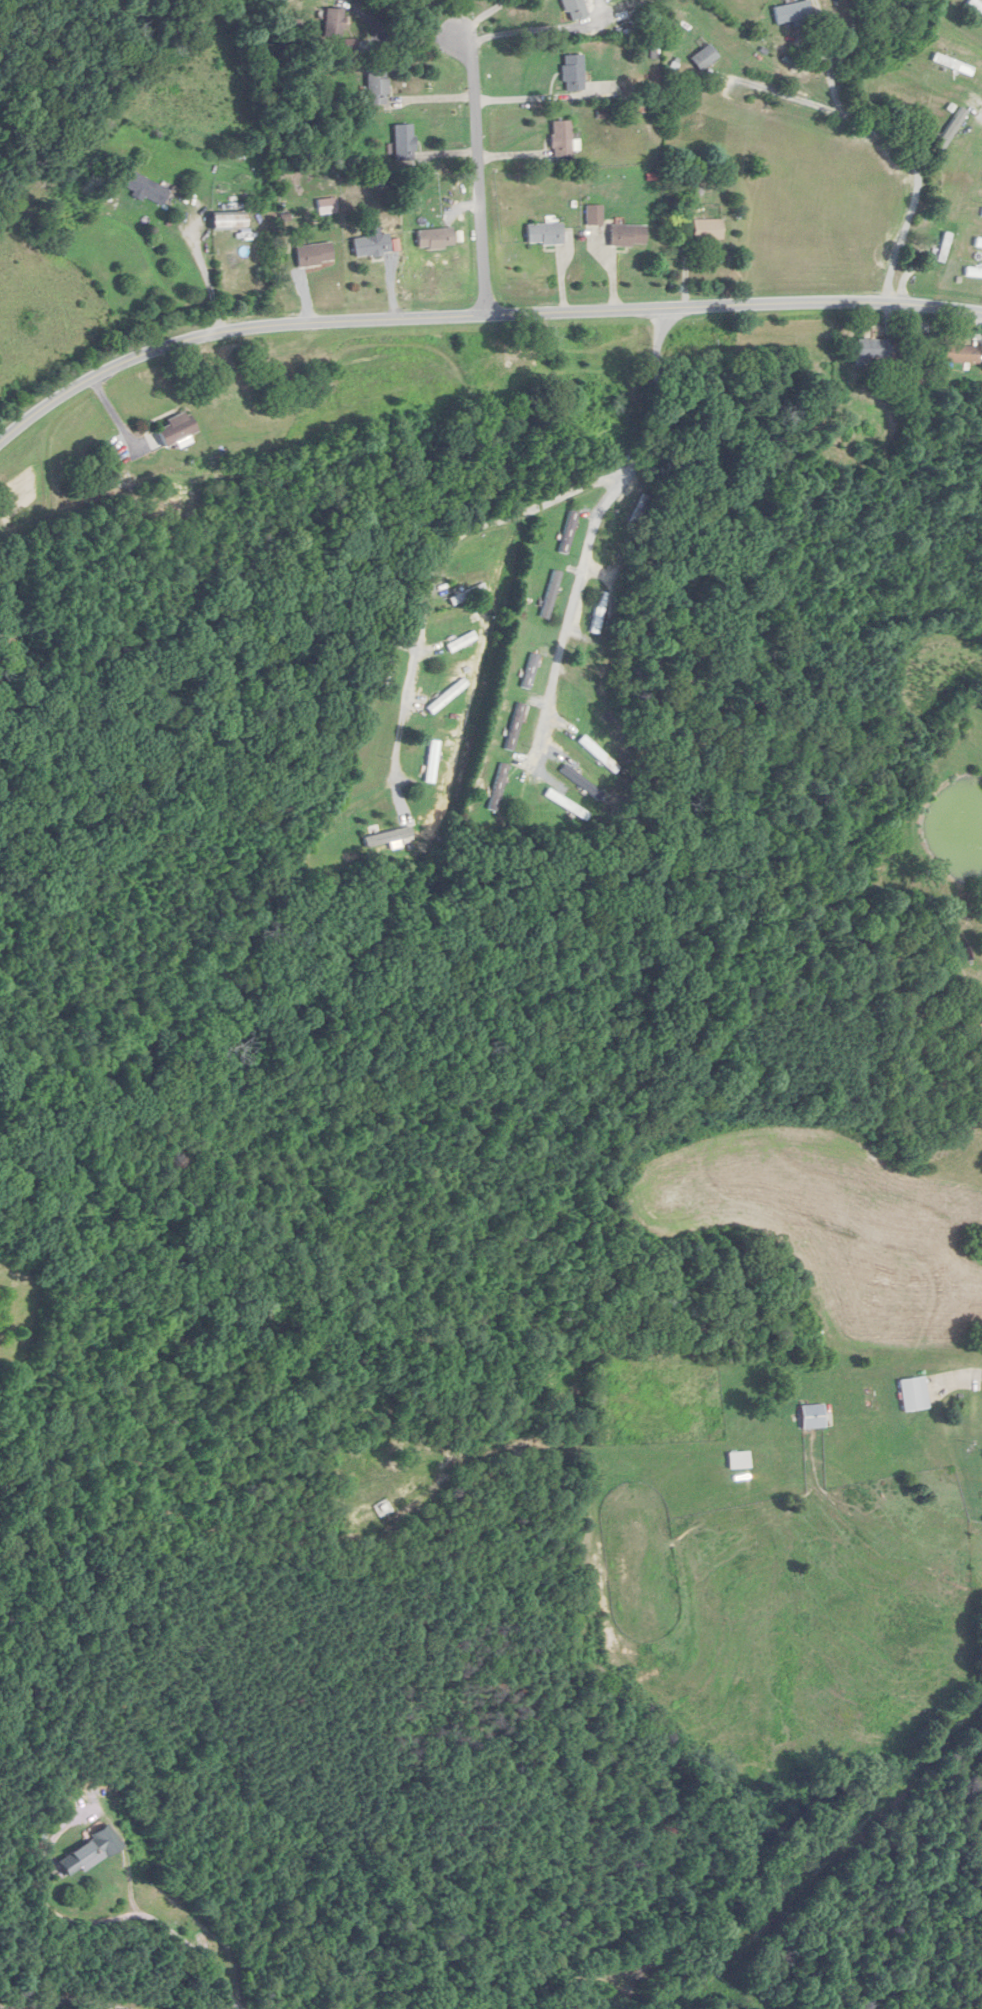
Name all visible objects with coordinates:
building: (975, 6)
building: (574, 9)
building: (792, 12)
building: (334, 22)
road: (407, 33)
building: (704, 58)
building: (953, 64)
building: (573, 73)
building: (377, 87)
road: (799, 98)
building: (950, 132)
building: (562, 139)
road: (897, 141)
building: (404, 143)
road: (484, 160)
building: (146, 189)
building: (594, 215)
building: (226, 221)
building: (706, 229)
building: (544, 234)
building: (627, 235)
building: (434, 239)
building: (978, 242)
building: (371, 246)
building: (945, 247)
building: (313, 255)
building: (973, 272)
road: (205, 275)
road: (476, 315)
building: (873, 349)
building: (962, 353)
building: (177, 430)
road: (590, 525)
building: (569, 531)
road: (431, 563)
building: (468, 594)
building: (551, 594)
building: (599, 612)
building: (462, 642)
building: (530, 671)
building: (390, 672)
building: (447, 696)
building: (515, 727)
building: (598, 754)
building: (432, 761)
building: (498, 787)
building: (377, 834)
road: (959, 1377)
building: (914, 1394)
building: (812, 1417)
building: (738, 1460)
building: (90, 1851)
road: (184, 1941)

